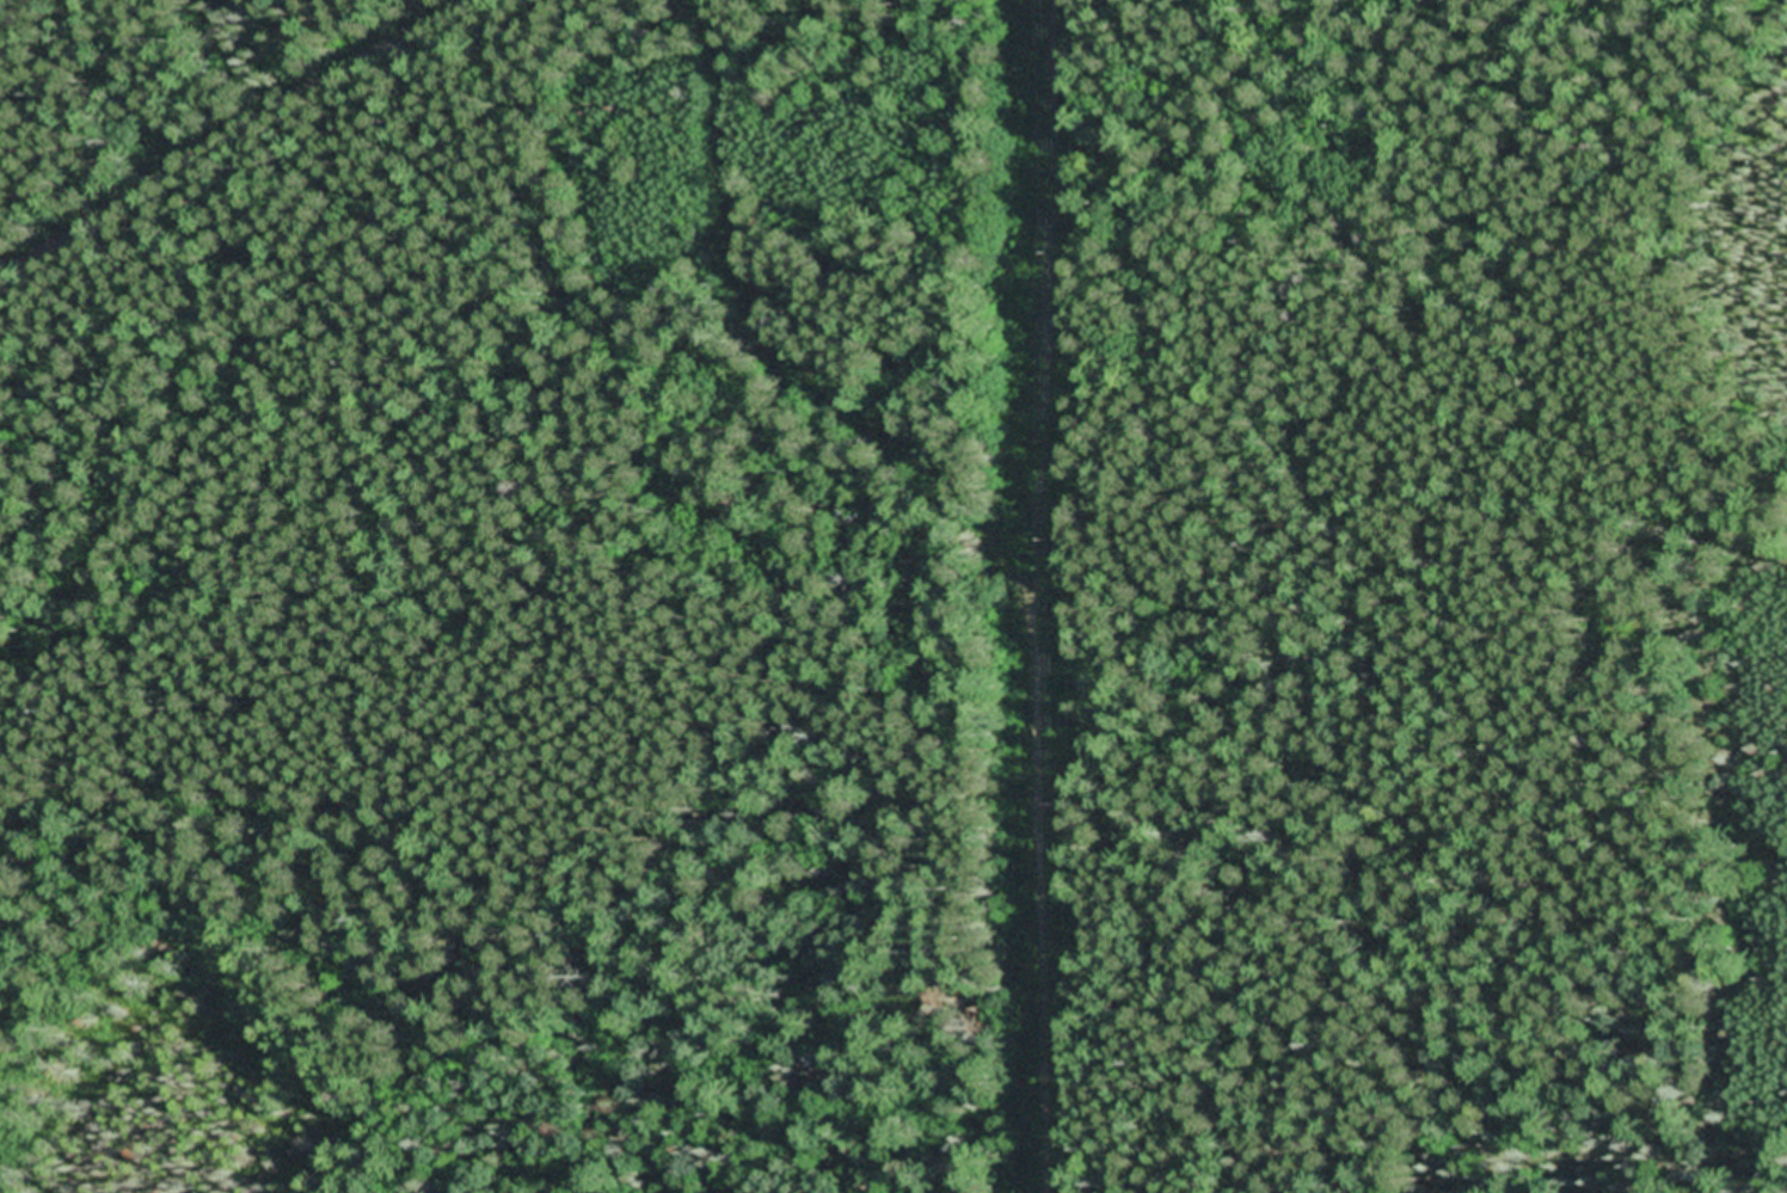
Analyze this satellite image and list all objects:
road: (233, 131)

